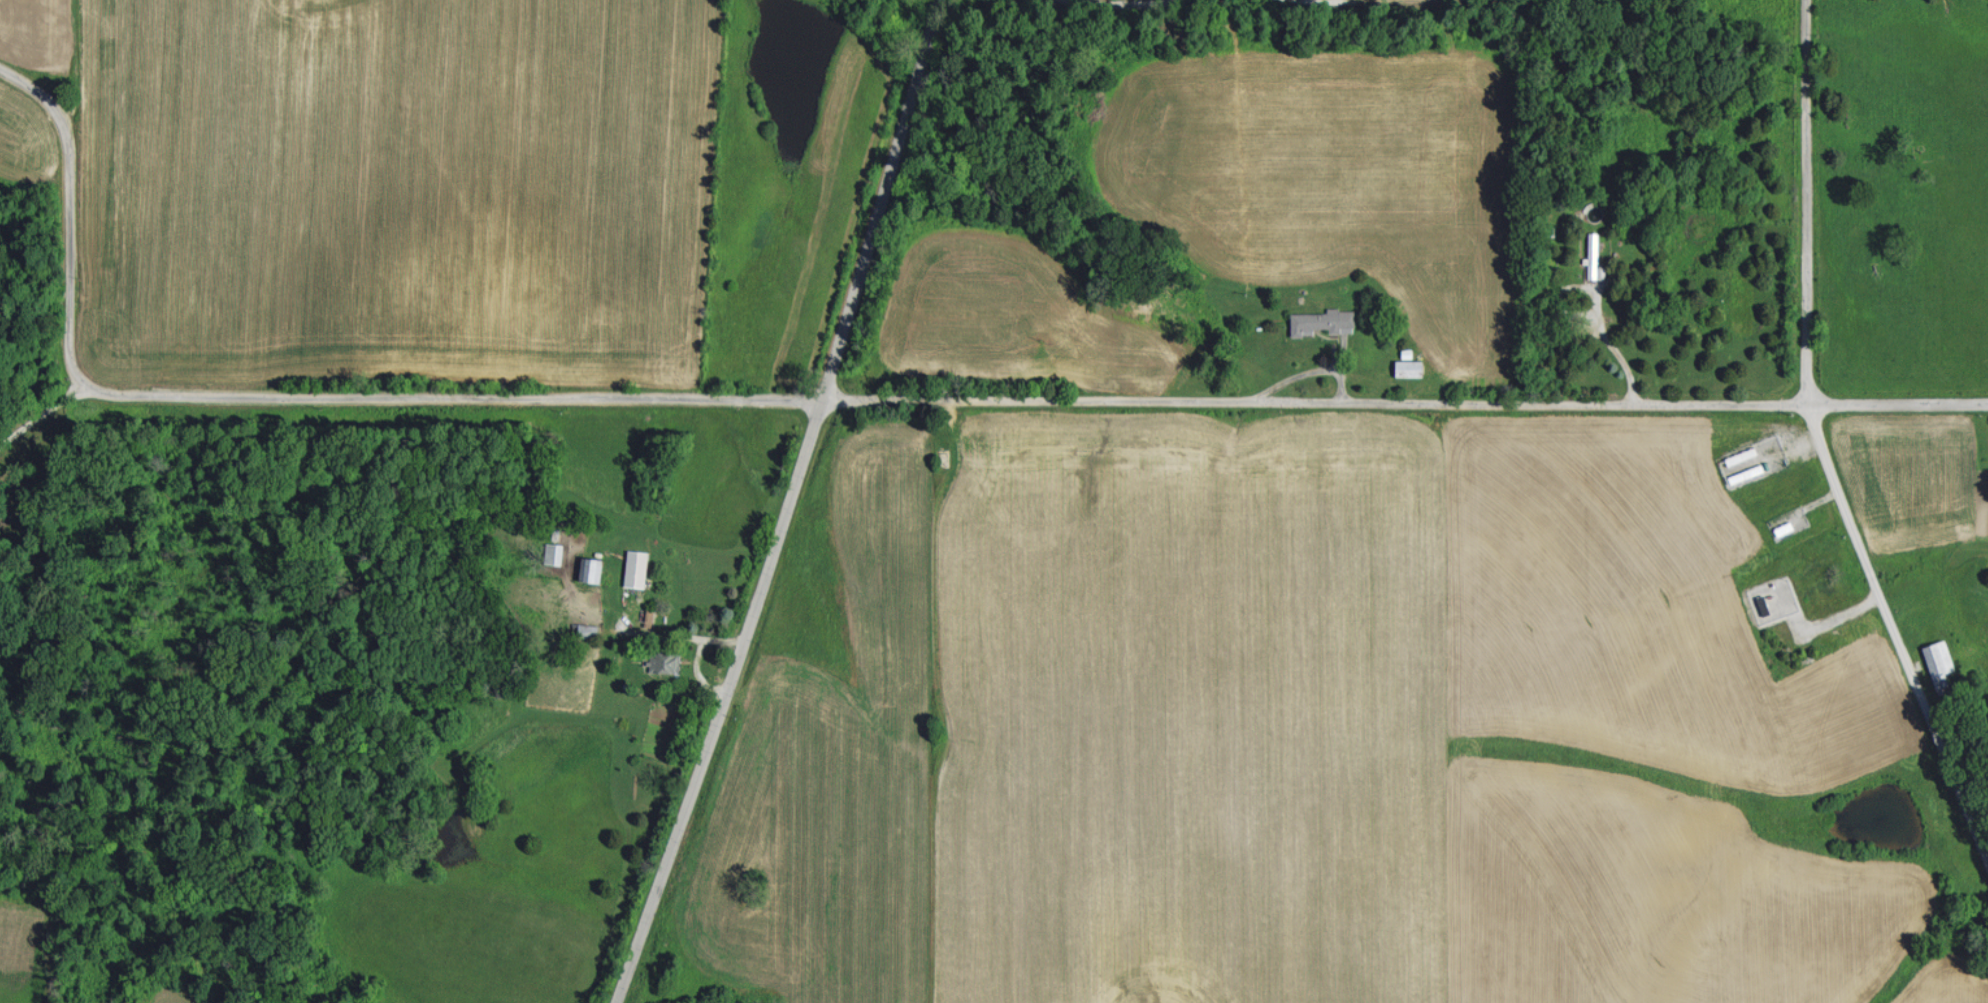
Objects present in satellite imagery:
building: (1594, 255)
building: (1325, 321)
road: (1617, 337)
building: (1411, 367)
road: (275, 392)
road: (1410, 394)
road: (36, 412)
road: (1821, 441)
road: (792, 505)
building: (555, 553)
building: (637, 568)
building: (592, 569)
building: (665, 661)
building: (1942, 663)

